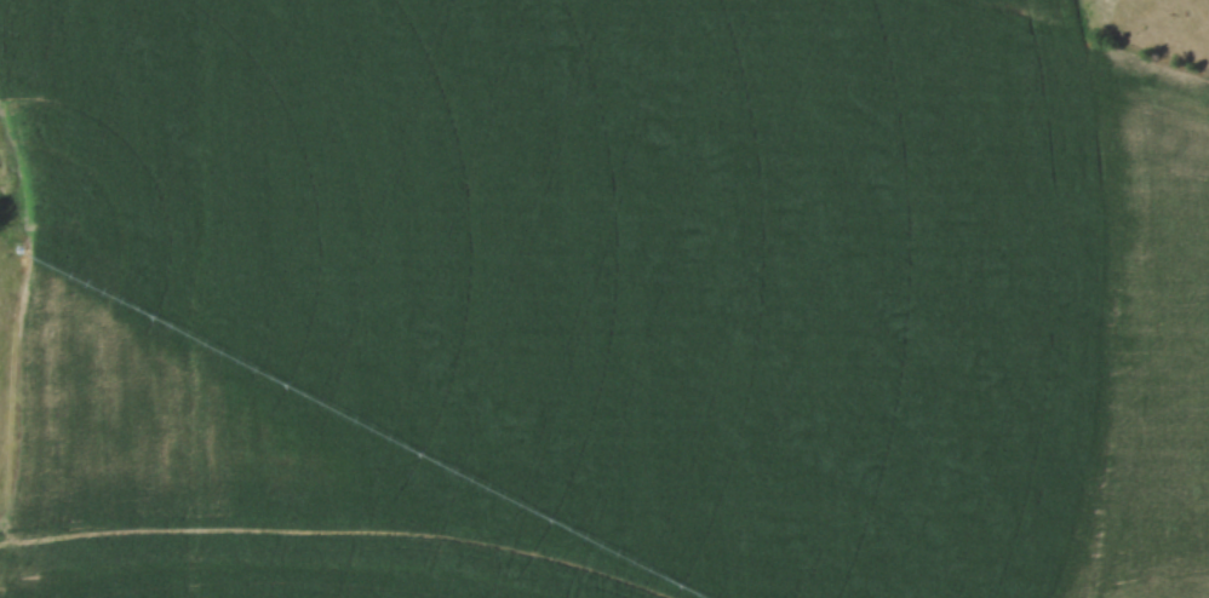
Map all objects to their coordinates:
crop: (1167, 346)

